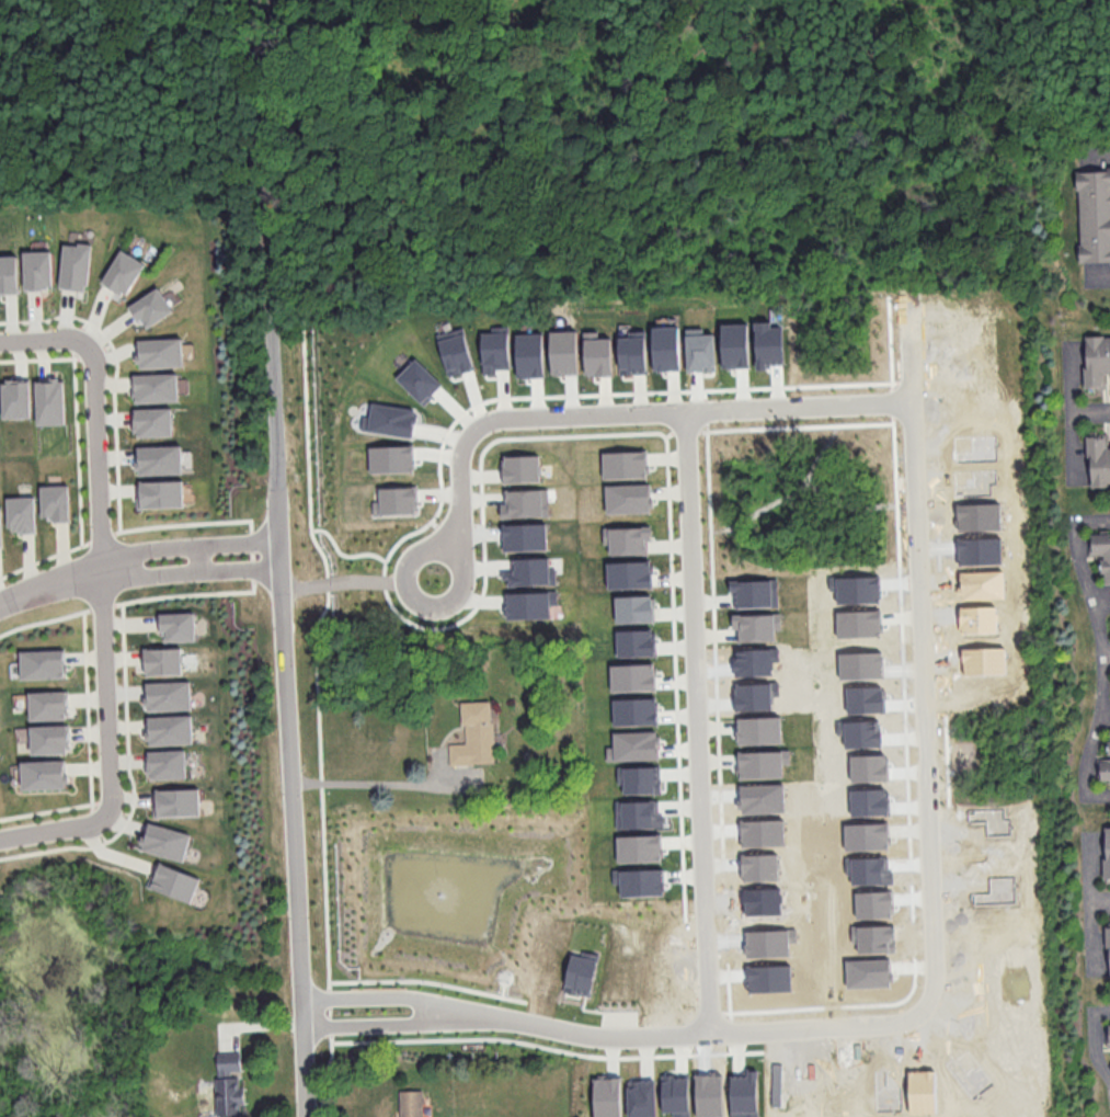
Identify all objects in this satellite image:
road: (262, 3)
parking lot: (253, 25)
road: (102, 39)
park: (114, 101)
road: (196, 124)
road: (1103, 149)
road: (162, 191)
building: (1094, 214)
building: (77, 266)
building: (38, 270)
building: (125, 272)
building: (9, 274)
building: (152, 307)
building: (734, 344)
building: (768, 344)
building: (666, 347)
building: (495, 349)
building: (700, 350)
building: (456, 351)
building: (161, 352)
building: (563, 352)
building: (632, 353)
building: (530, 354)
building: (597, 354)
building: (1097, 360)
road: (908, 362)
building: (420, 380)
building: (157, 387)
building: (18, 398)
building: (52, 401)
road: (96, 410)
road: (1098, 410)
road: (628, 412)
building: (392, 419)
building: (155, 422)
road: (778, 428)
road: (823, 449)
building: (392, 458)
building: (160, 459)
building: (1099, 460)
building: (625, 464)
building: (522, 468)
building: (974, 481)
building: (161, 493)
building: (628, 498)
park: (802, 498)
building: (398, 500)
building: (55, 502)
building: (525, 503)
road: (845, 506)
road: (764, 508)
building: (22, 513)
building: (979, 516)
road: (434, 523)
building: (1, 527)
building: (525, 536)
building: (627, 539)
road: (187, 546)
building: (980, 550)
building: (1101, 551)
road: (344, 554)
road: (199, 558)
road: (281, 558)
road: (190, 571)
building: (530, 572)
building: (629, 574)
road: (484, 580)
road: (342, 582)
road: (49, 583)
building: (982, 584)
building: (858, 589)
building: (756, 592)
road: (451, 600)
building: (527, 605)
building: (634, 608)
building: (979, 619)
building: (859, 623)
building: (179, 626)
building: (757, 626)
building: (637, 642)
road: (1107, 658)
road: (1109, 658)
building: (984, 660)
building: (164, 661)
building: (755, 661)
building: (44, 663)
building: (861, 664)
building: (633, 676)
building: (169, 695)
building: (756, 695)
building: (866, 699)
road: (924, 702)
building: (48, 705)
building: (636, 710)
road: (696, 720)
road: (717, 720)
road: (318, 721)
building: (760, 729)
building: (170, 730)
building: (861, 732)
building: (474, 734)
building: (1109, 737)
building: (50, 739)
building: (634, 745)
road: (906, 746)
road: (107, 748)
building: (764, 763)
building: (168, 764)
building: (869, 767)
building: (1105, 767)
building: (44, 774)
building: (641, 778)
road: (386, 782)
building: (763, 798)
building: (176, 801)
building: (870, 801)
building: (639, 813)
building: (764, 832)
building: (867, 835)
building: (165, 841)
building: (640, 847)
building: (1107, 851)
building: (760, 866)
building: (871, 870)
building: (640, 881)
building: (175, 882)
road: (1103, 900)
building: (763, 901)
building: (874, 903)
building: (874, 937)
building: (769, 942)
building: (1109, 956)
road: (510, 971)
building: (869, 972)
building: (581, 974)
building: (770, 978)
road: (427, 981)
road: (503, 990)
road: (380, 996)
road: (593, 1010)
parking lot: (618, 1017)
road: (618, 1023)
road: (380, 1025)
road: (695, 1031)
building: (1109, 1039)
road: (547, 1046)
road: (1098, 1047)
building: (969, 1073)
building: (229, 1083)
building: (777, 1084)
building: (888, 1090)
building: (923, 1091)
building: (676, 1094)
building: (710, 1094)
building: (745, 1094)
building: (607, 1096)
building: (642, 1097)
building: (411, 1103)

